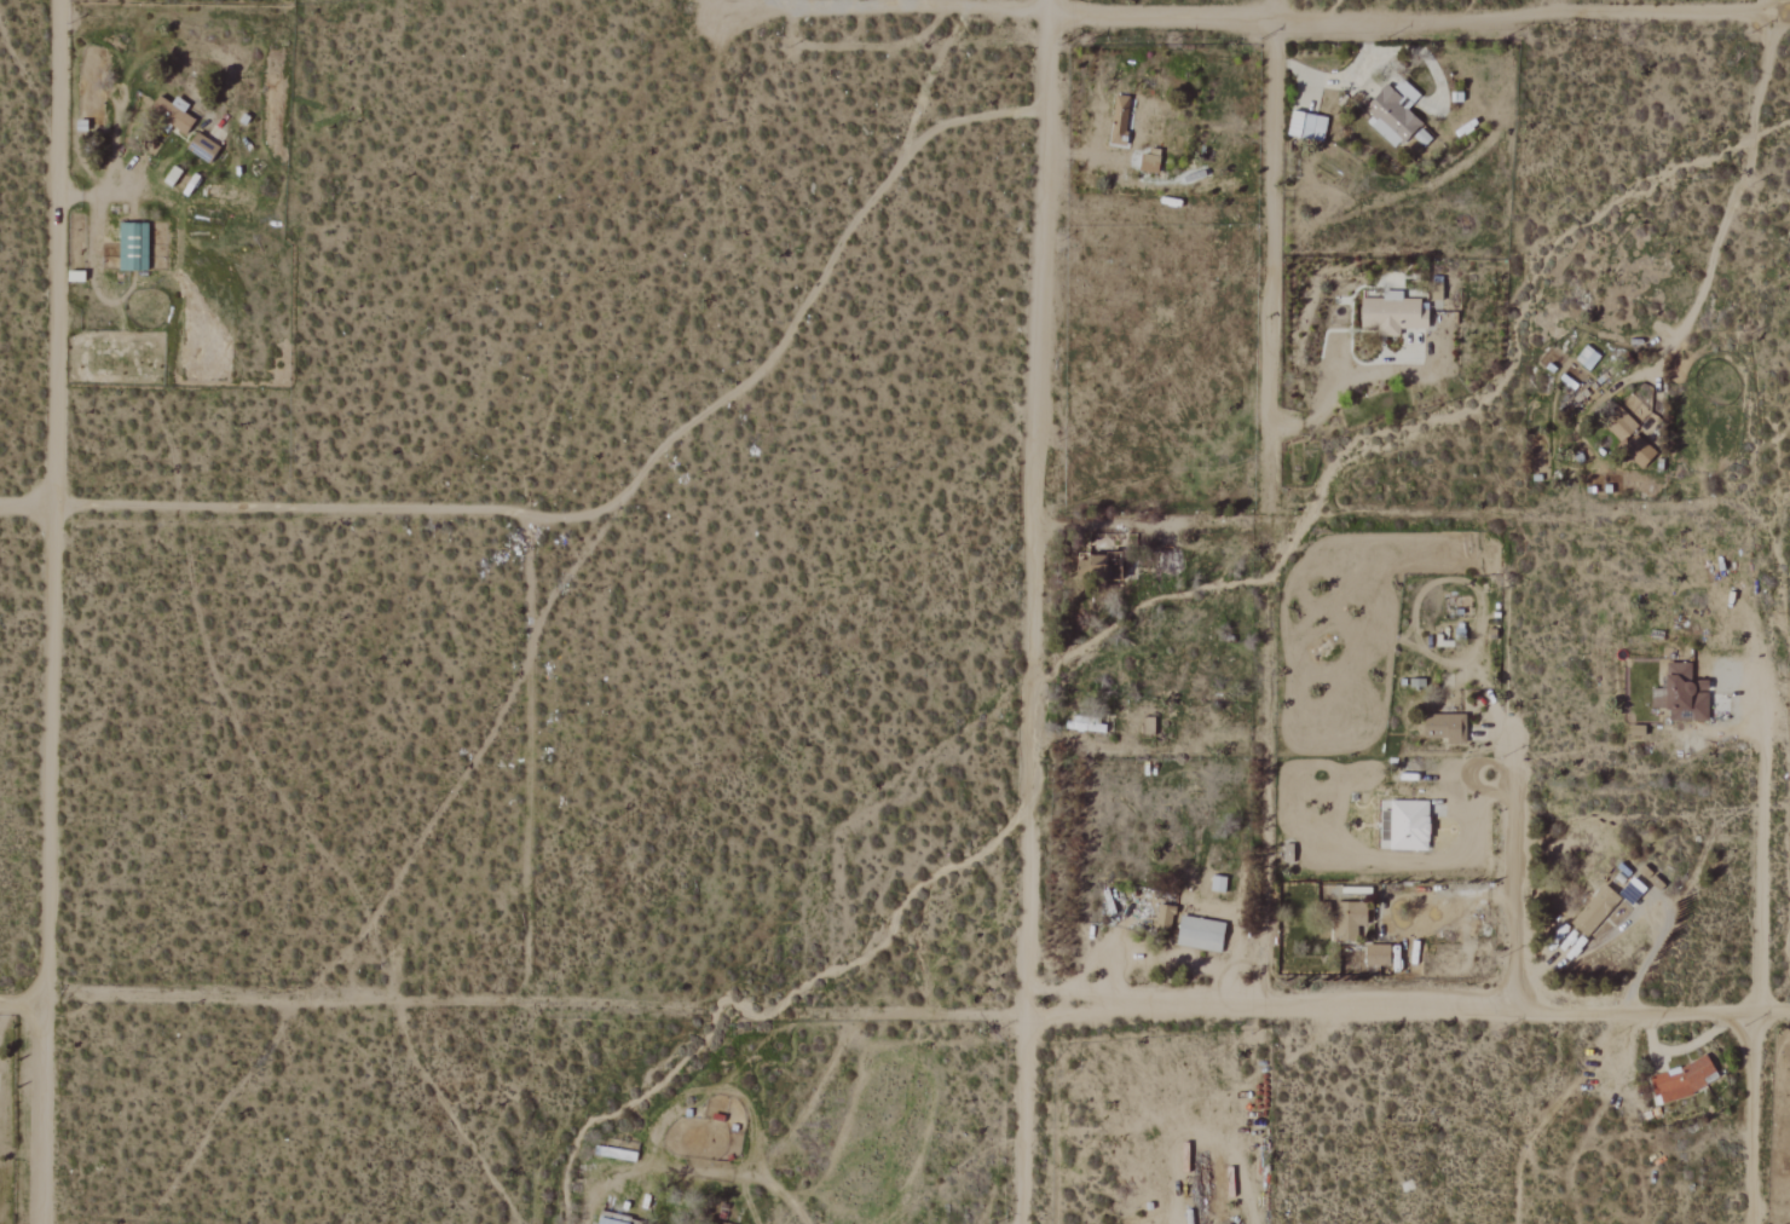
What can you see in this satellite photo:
road: (1767, 6)
road: (918, 8)
road: (1276, 8)
road: (1417, 15)
building: (177, 114)
building: (1395, 114)
building: (1122, 121)
building: (1310, 126)
building: (1422, 138)
building: (1153, 162)
road: (1745, 181)
road: (145, 197)
building: (135, 247)
road: (54, 252)
road: (813, 290)
road: (1330, 393)
building: (1627, 439)
road: (265, 508)
road: (562, 516)
building: (1109, 570)
road: (1022, 611)
road: (1268, 628)
building: (1678, 693)
building: (1151, 726)
building: (1444, 727)
building: (1404, 825)
road: (45, 862)
road: (1513, 868)
building: (1222, 884)
building: (1593, 910)
road: (1638, 910)
building: (1167, 917)
building: (1347, 920)
building: (1203, 934)
building: (1375, 955)
road: (1762, 958)
road: (22, 1001)
road: (1405, 1012)
building: (1681, 1080)
road: (699, 1172)
building: (616, 1220)

